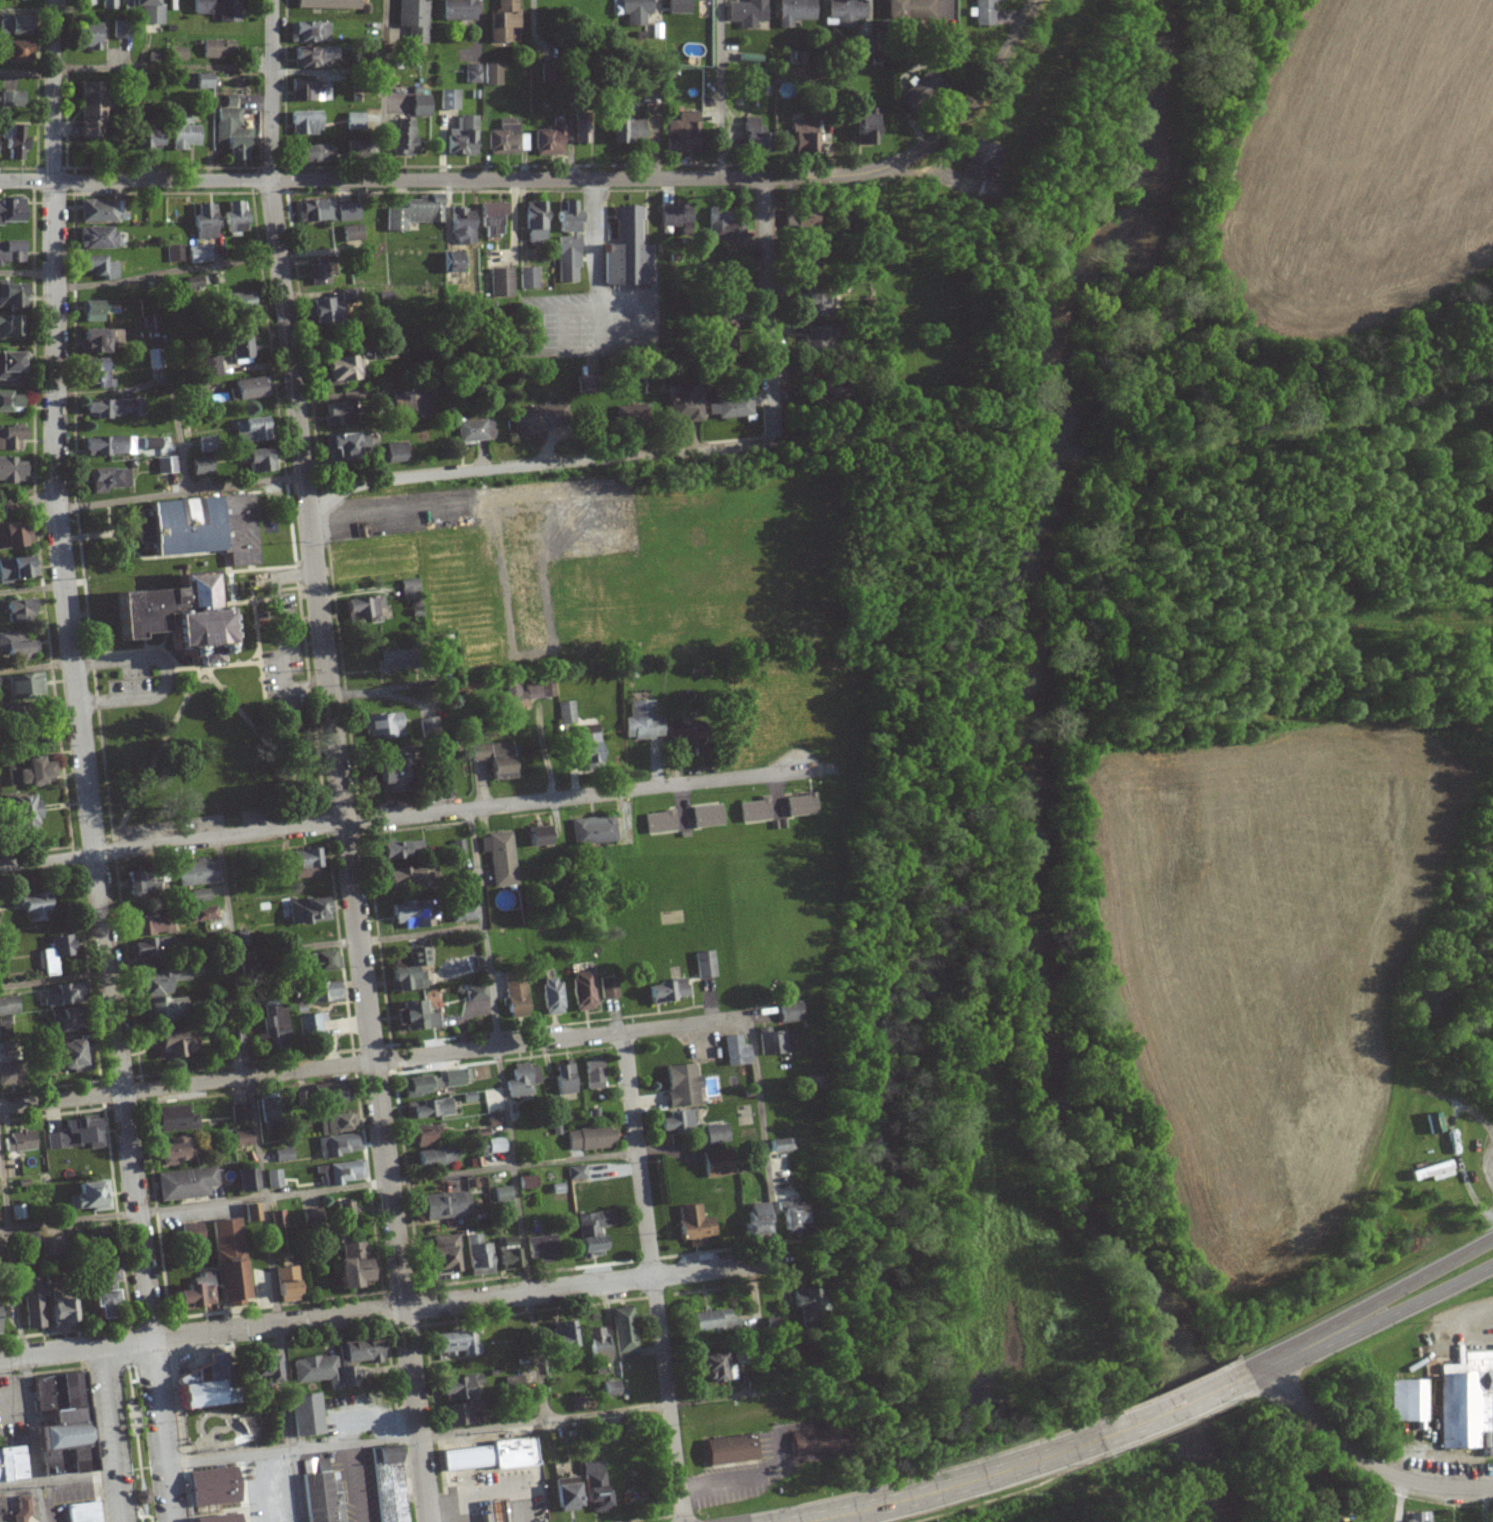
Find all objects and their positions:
building: (99, 3)
building: (327, 4)
building: (678, 6)
building: (217, 9)
building: (910, 9)
building: (457, 10)
building: (633, 10)
building: (151, 11)
building: (846, 11)
building: (795, 12)
building: (982, 12)
building: (747, 13)
building: (413, 19)
building: (503, 20)
building: (13, 25)
building: (308, 32)
building: (90, 36)
building: (862, 46)
building: (216, 49)
building: (13, 52)
building: (176, 53)
building: (313, 55)
road: (191, 65)
building: (473, 74)
building: (493, 74)
road: (990, 74)
building: (203, 81)
building: (925, 86)
road: (384, 88)
road: (720, 88)
building: (309, 90)
building: (647, 95)
building: (13, 99)
building: (449, 100)
building: (420, 105)
building: (90, 111)
building: (355, 121)
building: (304, 123)
building: (627, 126)
building: (864, 128)
building: (579, 132)
building: (183, 133)
building: (231, 133)
building: (682, 134)
building: (751, 135)
building: (803, 136)
building: (142, 137)
building: (462, 137)
building: (402, 138)
building: (506, 138)
building: (549, 139)
building: (11, 142)
building: (312, 154)
building: (978, 160)
road: (472, 178)
building: (316, 210)
building: (11, 211)
building: (100, 211)
building: (347, 212)
building: (414, 213)
building: (674, 217)
building: (803, 217)
building: (234, 219)
building: (491, 219)
building: (535, 221)
building: (204, 222)
building: (723, 225)
building: (462, 226)
building: (352, 233)
building: (96, 238)
building: (567, 242)
building: (625, 251)
building: (11, 252)
building: (175, 253)
building: (200, 254)
road: (595, 258)
building: (454, 262)
building: (808, 266)
building: (101, 267)
building: (319, 272)
road: (27, 273)
road: (166, 274)
building: (528, 278)
building: (501, 282)
building: (10, 295)
building: (242, 301)
building: (815, 304)
road: (766, 306)
building: (95, 311)
building: (325, 312)
building: (150, 323)
building: (10, 328)
building: (718, 339)
building: (98, 340)
building: (816, 342)
building: (241, 350)
building: (212, 366)
building: (9, 367)
building: (342, 369)
building: (95, 373)
road: (168, 381)
road: (28, 385)
building: (587, 385)
building: (249, 388)
building: (197, 391)
building: (401, 398)
building: (10, 402)
building: (685, 404)
building: (732, 407)
building: (114, 408)
building: (338, 413)
building: (532, 420)
building: (250, 430)
building: (474, 431)
building: (10, 439)
building: (206, 445)
building: (340, 445)
building: (109, 446)
building: (395, 452)
building: (256, 461)
building: (171, 463)
road: (541, 464)
building: (200, 466)
building: (12, 471)
building: (109, 479)
road: (181, 490)
road: (29, 502)
building: (198, 529)
building: (14, 535)
building: (17, 569)
road: (33, 589)
building: (410, 589)
building: (364, 609)
building: (19, 611)
building: (171, 619)
building: (16, 646)
building: (390, 661)
road: (38, 667)
road: (76, 671)
building: (447, 671)
road: (164, 676)
building: (24, 685)
building: (547, 686)
building: (521, 695)
building: (566, 712)
building: (643, 721)
building: (384, 724)
building: (19, 728)
building: (428, 728)
building: (686, 738)
road: (541, 748)
building: (585, 749)
building: (495, 756)
river: (1030, 758)
road: (340, 761)
building: (30, 771)
building: (392, 773)
building: (438, 787)
building: (801, 804)
building: (755, 810)
building: (20, 812)
road: (409, 816)
building: (707, 816)
building: (660, 821)
building: (593, 830)
building: (538, 836)
building: (400, 848)
building: (502, 859)
building: (302, 862)
building: (198, 873)
building: (404, 879)
building: (138, 883)
building: (200, 895)
building: (36, 906)
building: (309, 910)
building: (410, 913)
building: (465, 913)
building: (146, 924)
building: (151, 947)
building: (54, 953)
road: (241, 954)
building: (325, 960)
building: (705, 964)
building: (247, 966)
building: (410, 971)
building: (610, 987)
building: (584, 990)
building: (666, 990)
building: (324, 991)
building: (477, 992)
building: (517, 993)
building: (60, 994)
building: (155, 995)
building: (553, 996)
building: (9, 1005)
building: (789, 1011)
building: (415, 1016)
building: (62, 1022)
building: (310, 1023)
building: (274, 1024)
building: (232, 1041)
building: (176, 1042)
building: (775, 1042)
building: (735, 1051)
building: (66, 1055)
road: (365, 1062)
building: (11, 1073)
building: (594, 1074)
building: (457, 1076)
building: (565, 1078)
building: (523, 1080)
building: (423, 1084)
building: (683, 1085)
building: (330, 1093)
building: (429, 1108)
building: (240, 1112)
building: (269, 1112)
road: (507, 1114)
building: (171, 1119)
building: (1434, 1122)
building: (338, 1123)
building: (678, 1123)
building: (716, 1133)
building: (76, 1134)
building: (427, 1134)
building: (242, 1138)
building: (591, 1138)
building: (17, 1141)
building: (338, 1144)
building: (781, 1144)
building: (493, 1146)
building: (179, 1150)
building: (283, 1154)
building: (436, 1156)
building: (716, 1163)
building: (1435, 1171)
building: (342, 1172)
building: (577, 1172)
building: (274, 1178)
building: (245, 1179)
road: (262, 1180)
building: (527, 1182)
building: (185, 1183)
road: (319, 1190)
building: (502, 1194)
building: (90, 1195)
road: (770, 1199)
building: (446, 1205)
building: (345, 1211)
building: (18, 1212)
building: (251, 1212)
building: (791, 1215)
building: (278, 1218)
building: (755, 1220)
building: (694, 1224)
building: (593, 1231)
building: (191, 1232)
building: (36, 1244)
building: (541, 1249)
building: (443, 1253)
building: (508, 1254)
building: (479, 1256)
building: (227, 1259)
building: (349, 1265)
road: (654, 1276)
building: (285, 1283)
building: (101, 1292)
building: (193, 1293)
building: (803, 1299)
road: (1379, 1300)
building: (31, 1303)
road: (409, 1307)
building: (59, 1313)
road: (1382, 1318)
building: (712, 1321)
road: (20, 1333)
building: (623, 1333)
building: (454, 1342)
building: (564, 1342)
building: (599, 1346)
building: (359, 1353)
building: (713, 1368)
road: (1258, 1369)
building: (264, 1371)
building: (323, 1371)
building: (609, 1387)
building: (196, 1389)
building: (460, 1400)
road: (1183, 1402)
building: (1468, 1402)
building: (305, 1414)
building: (58, 1425)
road: (499, 1426)
road: (160, 1430)
road: (101, 1434)
building: (817, 1440)
building: (732, 1449)
building: (491, 1455)
road: (1362, 1461)
building: (11, 1464)
road: (53, 1479)
road: (961, 1482)
building: (388, 1484)
building: (211, 1486)
building: (592, 1487)
building: (320, 1492)
building: (564, 1494)
road: (1410, 1501)
road: (1490, 1504)
building: (20, 1509)
building: (492, 1511)
building: (80, 1512)
building: (1419, 1517)
building: (216, 1518)
building: (1333, 1520)
building: (0, 1521)

